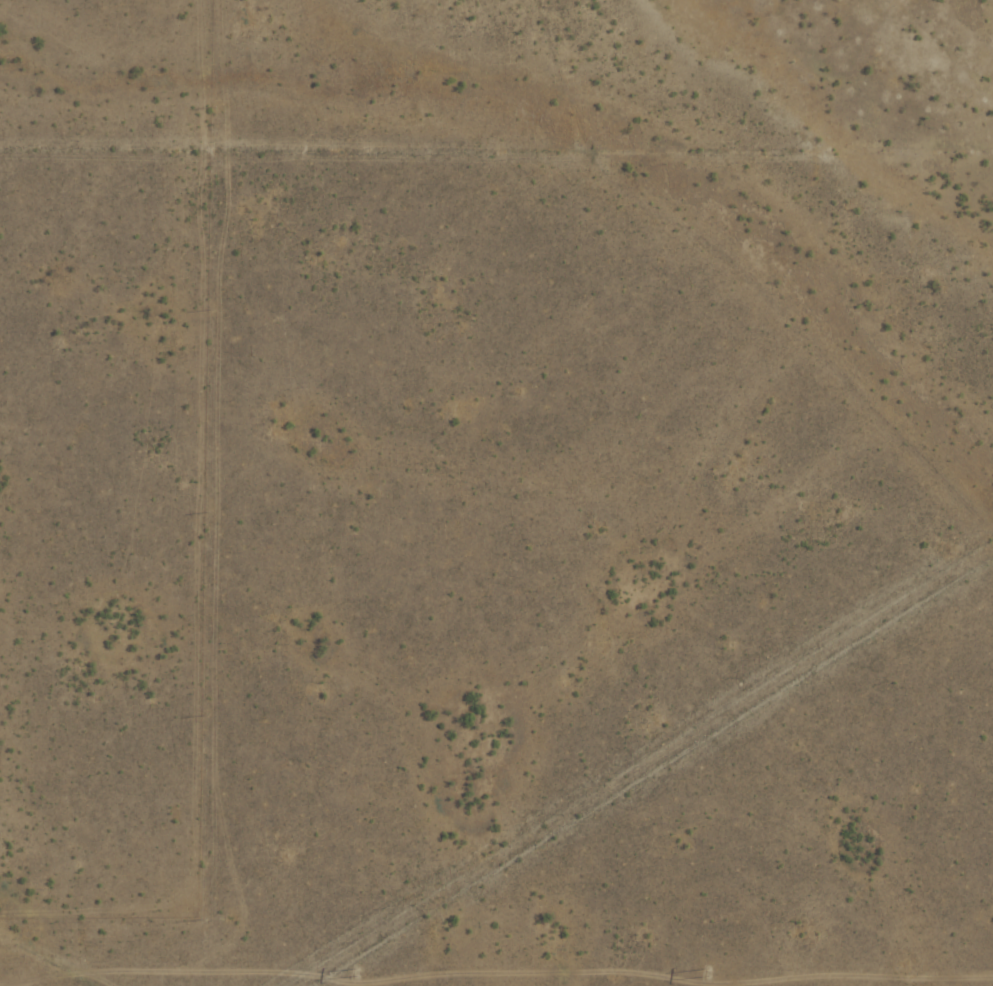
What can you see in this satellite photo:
power tower: (356, 971)
power tower: (708, 973)

